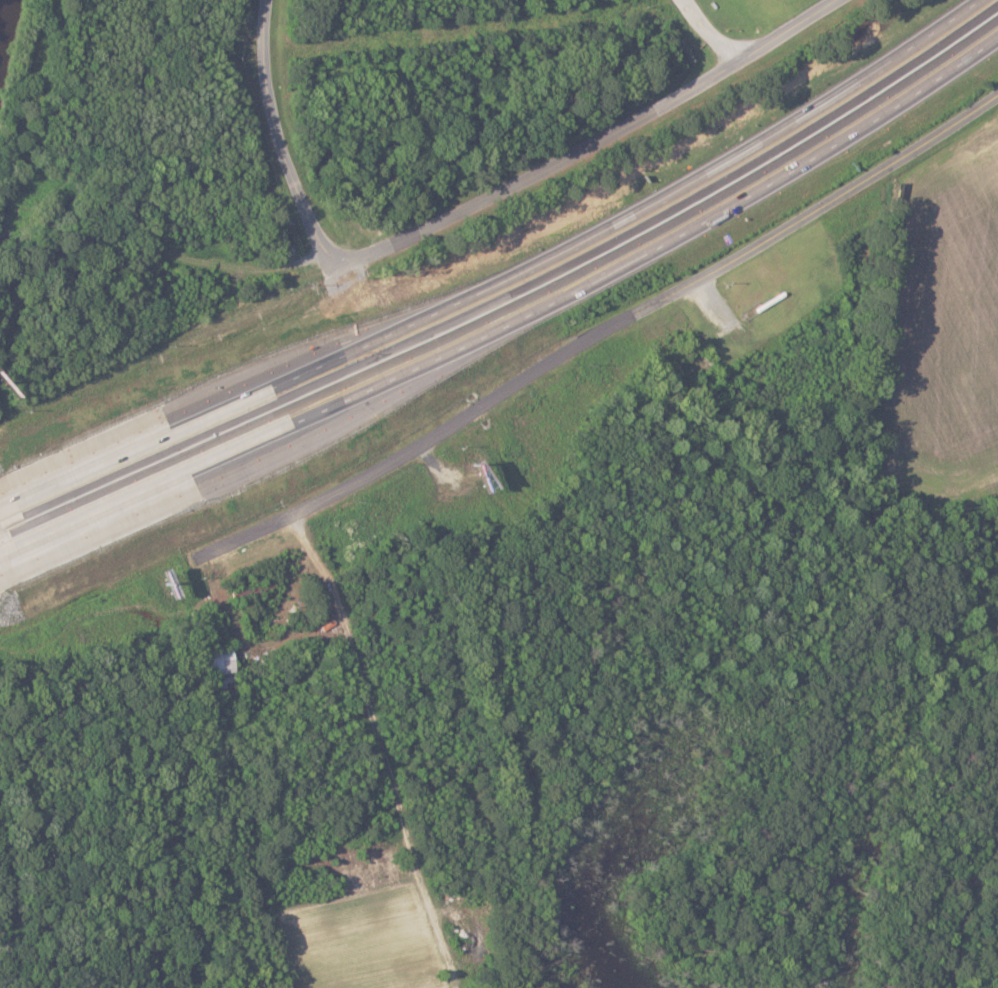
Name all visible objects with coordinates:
road: (711, 33)
river: (7, 35)
road: (610, 135)
road: (290, 147)
road: (508, 285)
road: (511, 320)
road: (597, 339)

